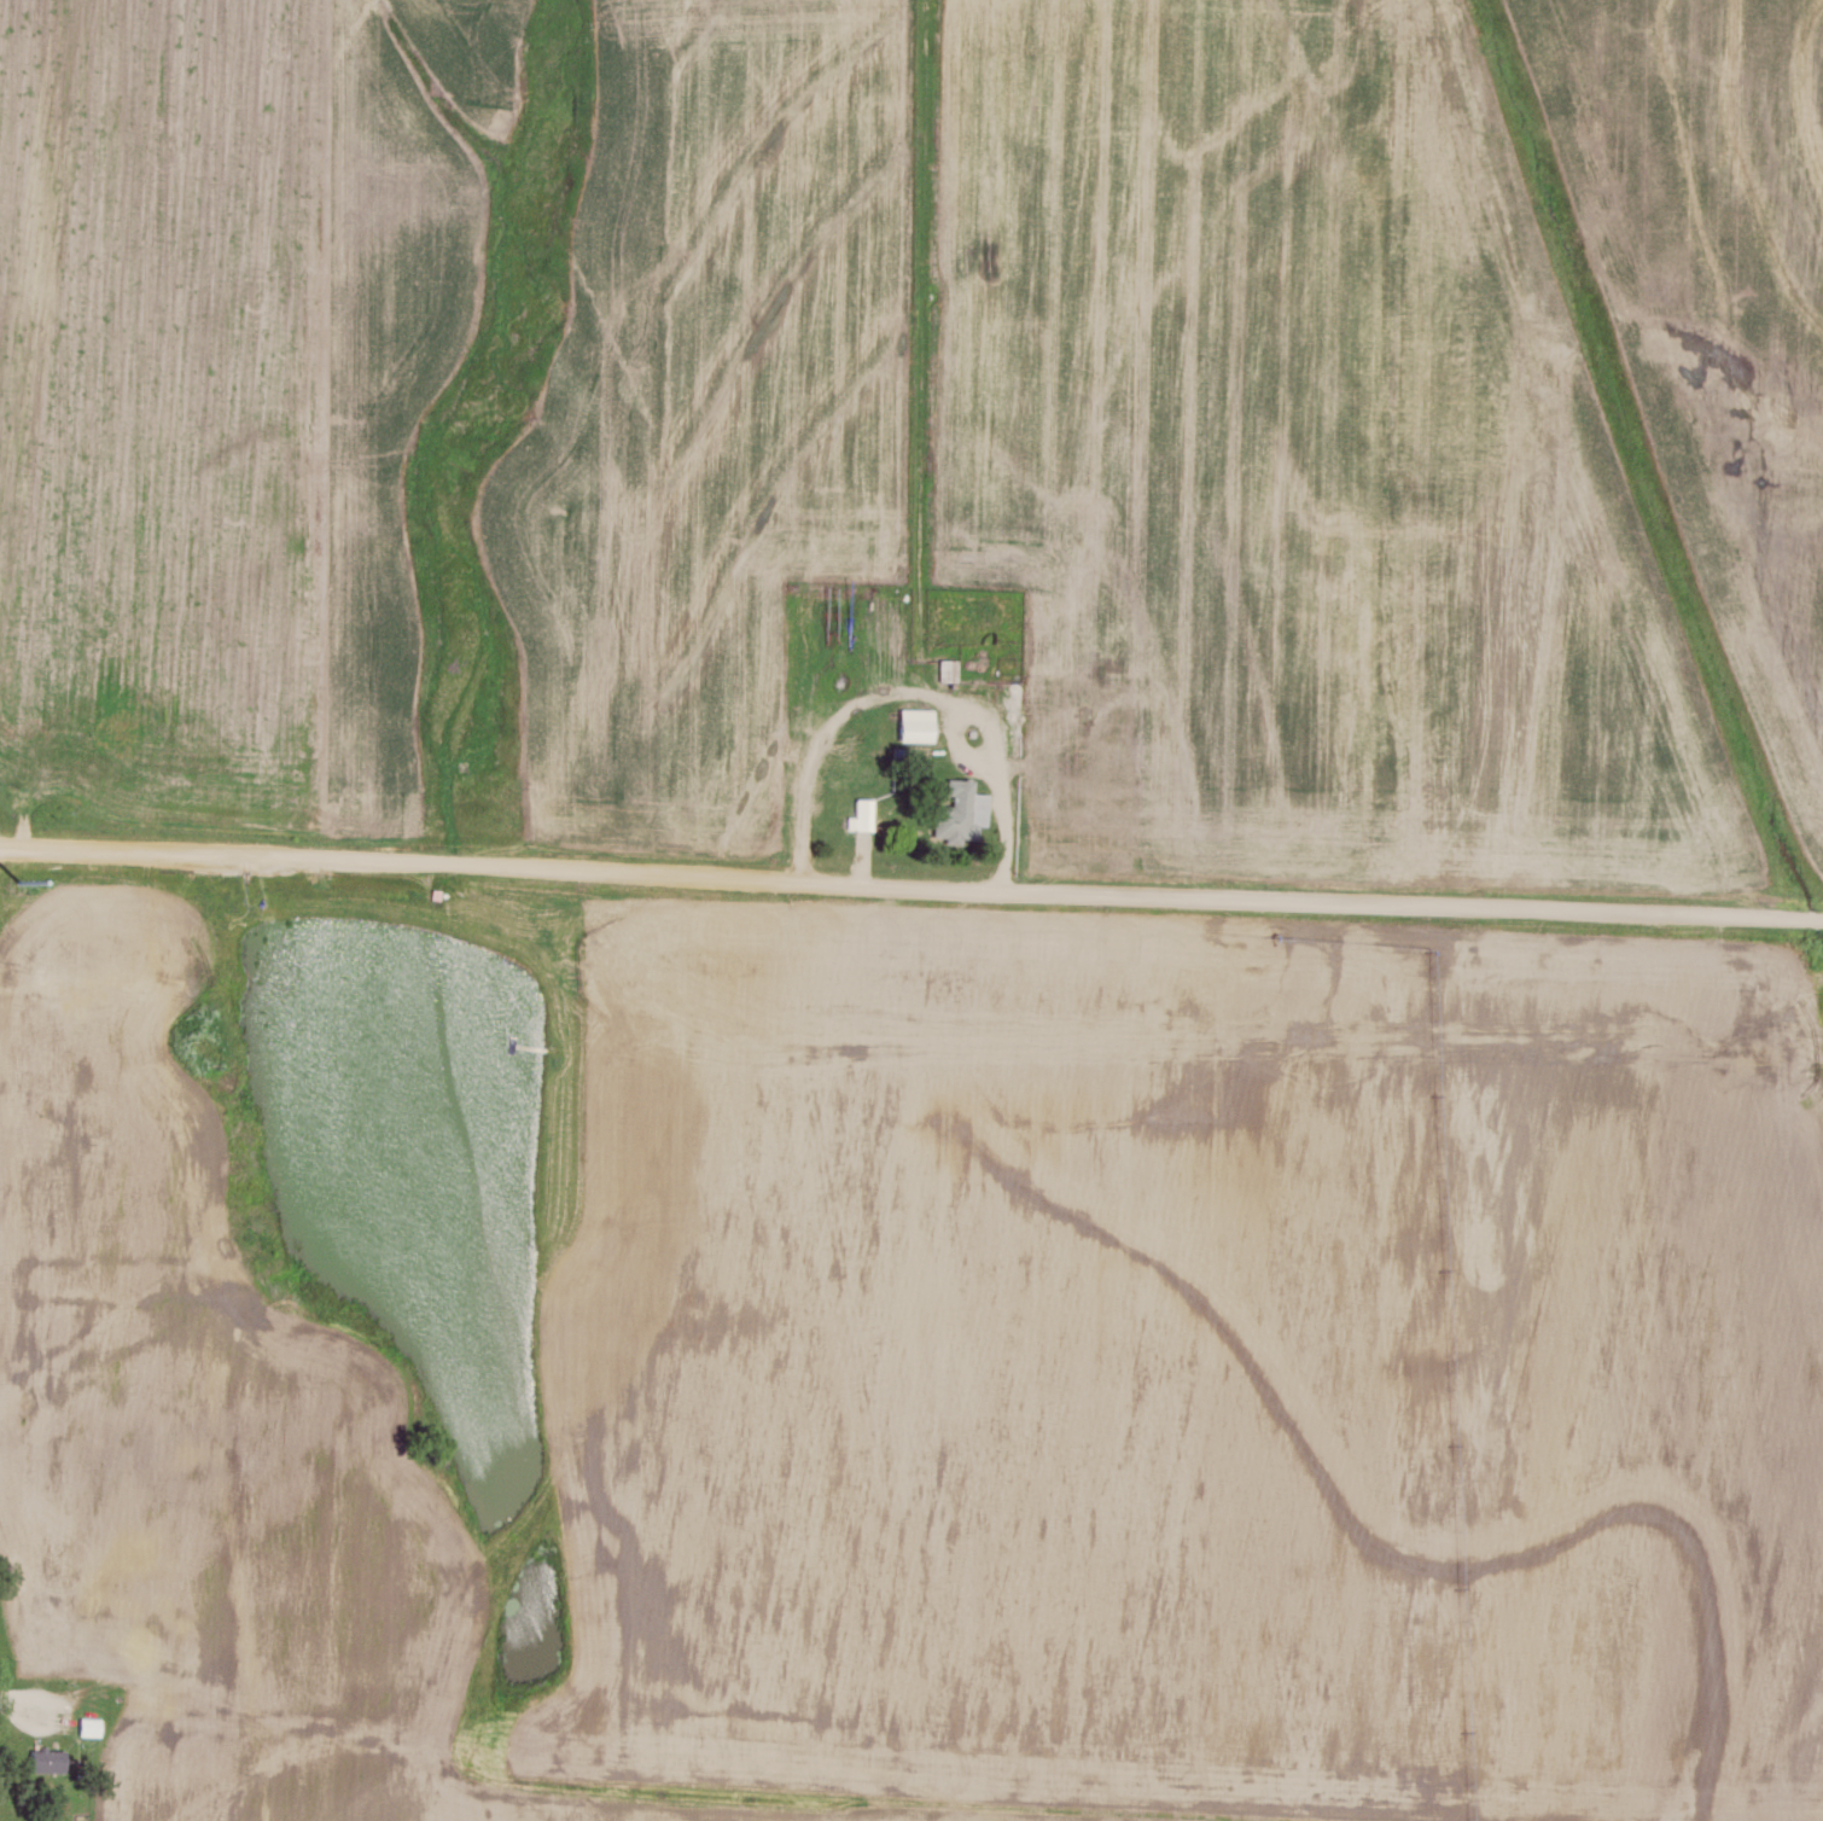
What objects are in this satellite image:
building: (947, 668)
building: (913, 723)
road: (1004, 791)
building: (960, 810)
building: (860, 814)
road: (910, 888)
road: (1, 1694)
road: (48, 1698)

